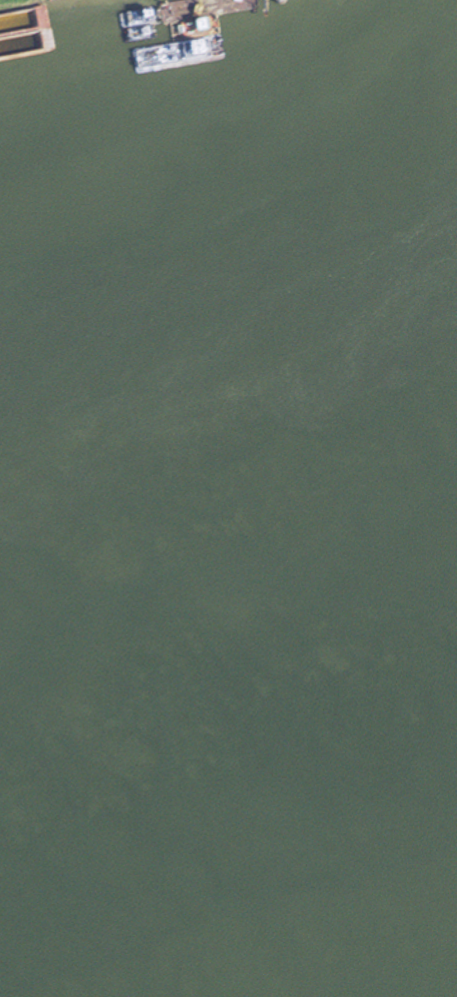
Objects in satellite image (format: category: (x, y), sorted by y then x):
river: (228, 841)

